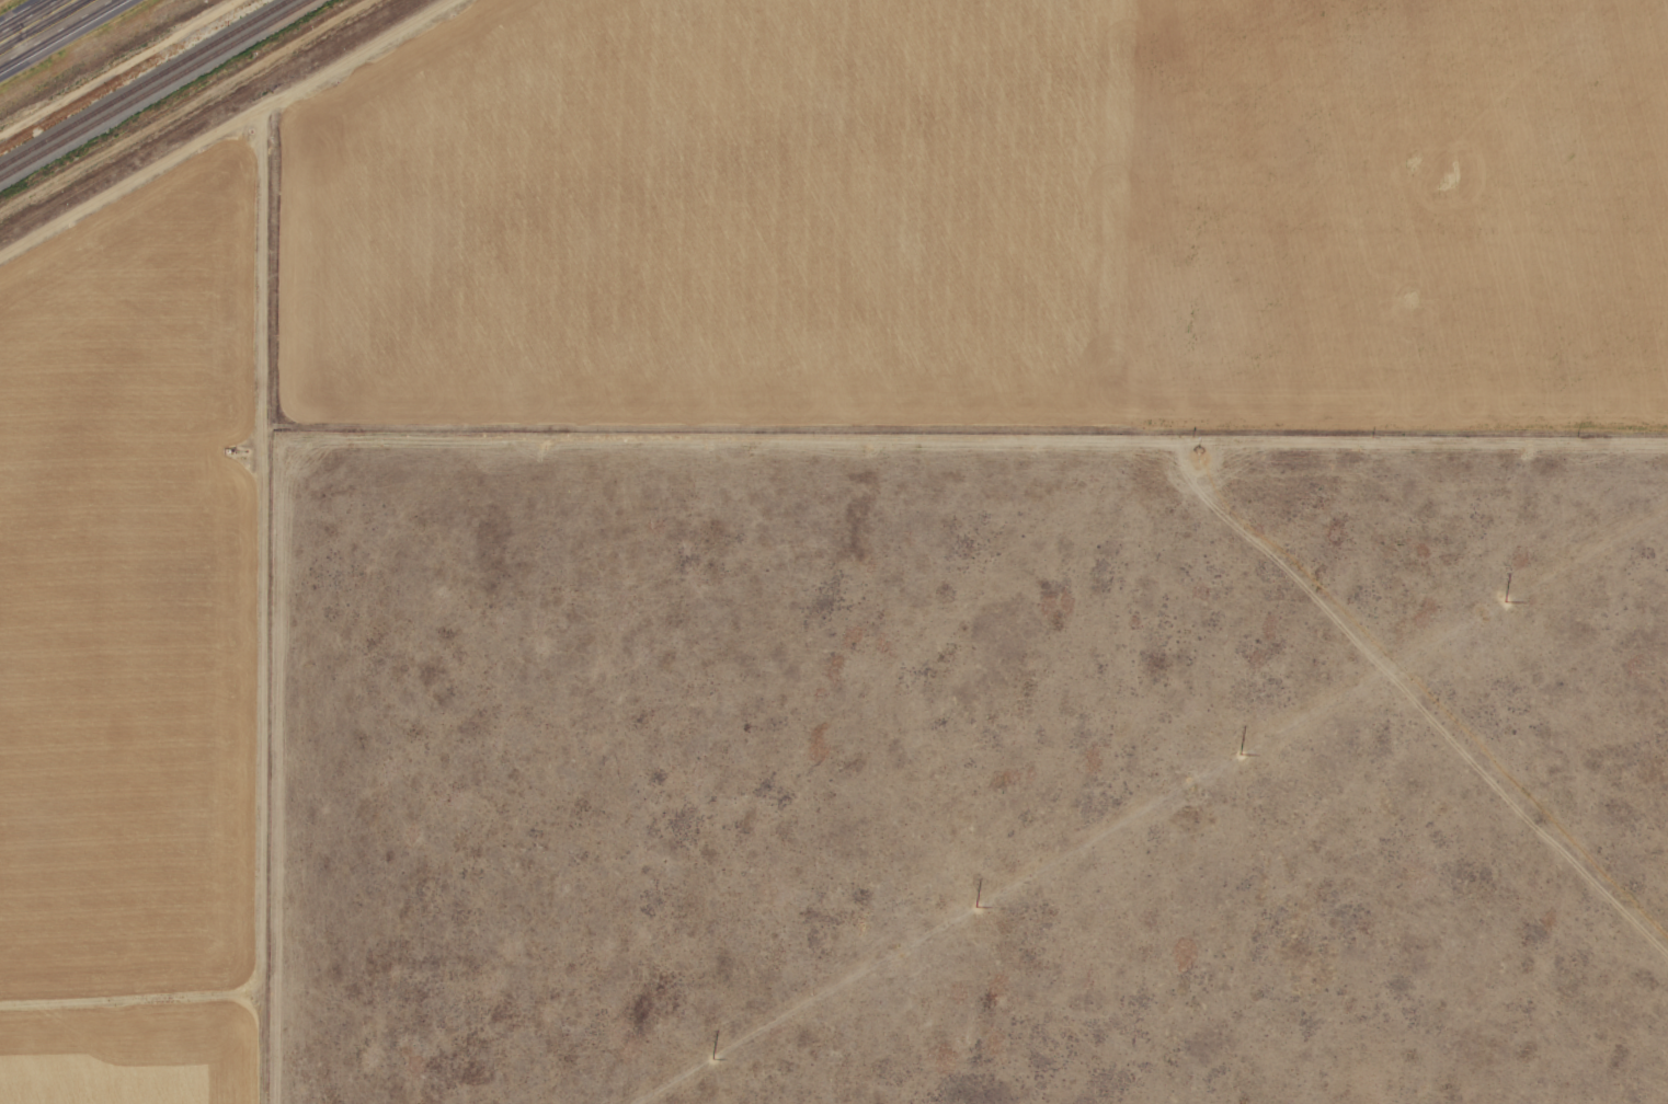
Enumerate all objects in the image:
road: (43, 24)
railway: (144, 83)
railway: (156, 89)
power tower: (1482, 612)
power tower: (1192, 780)
power tower: (900, 951)

